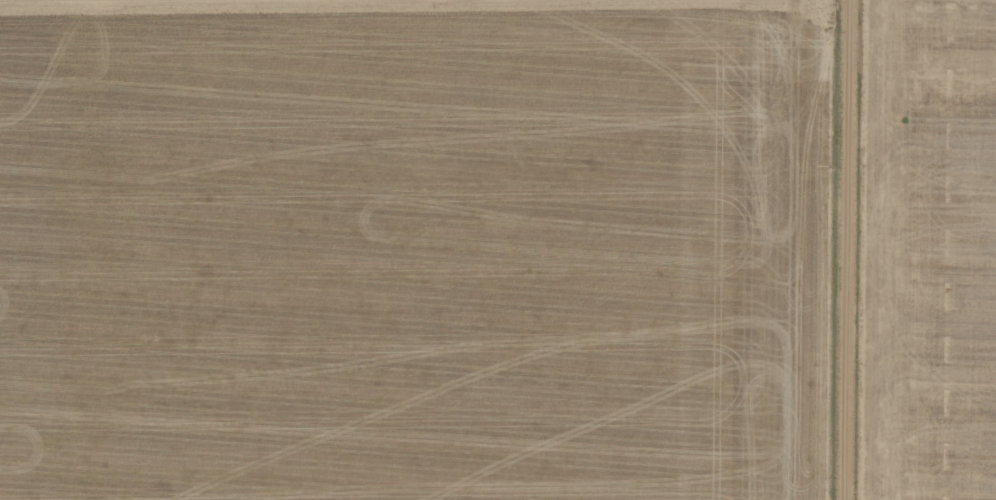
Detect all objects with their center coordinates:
road: (850, 250)

